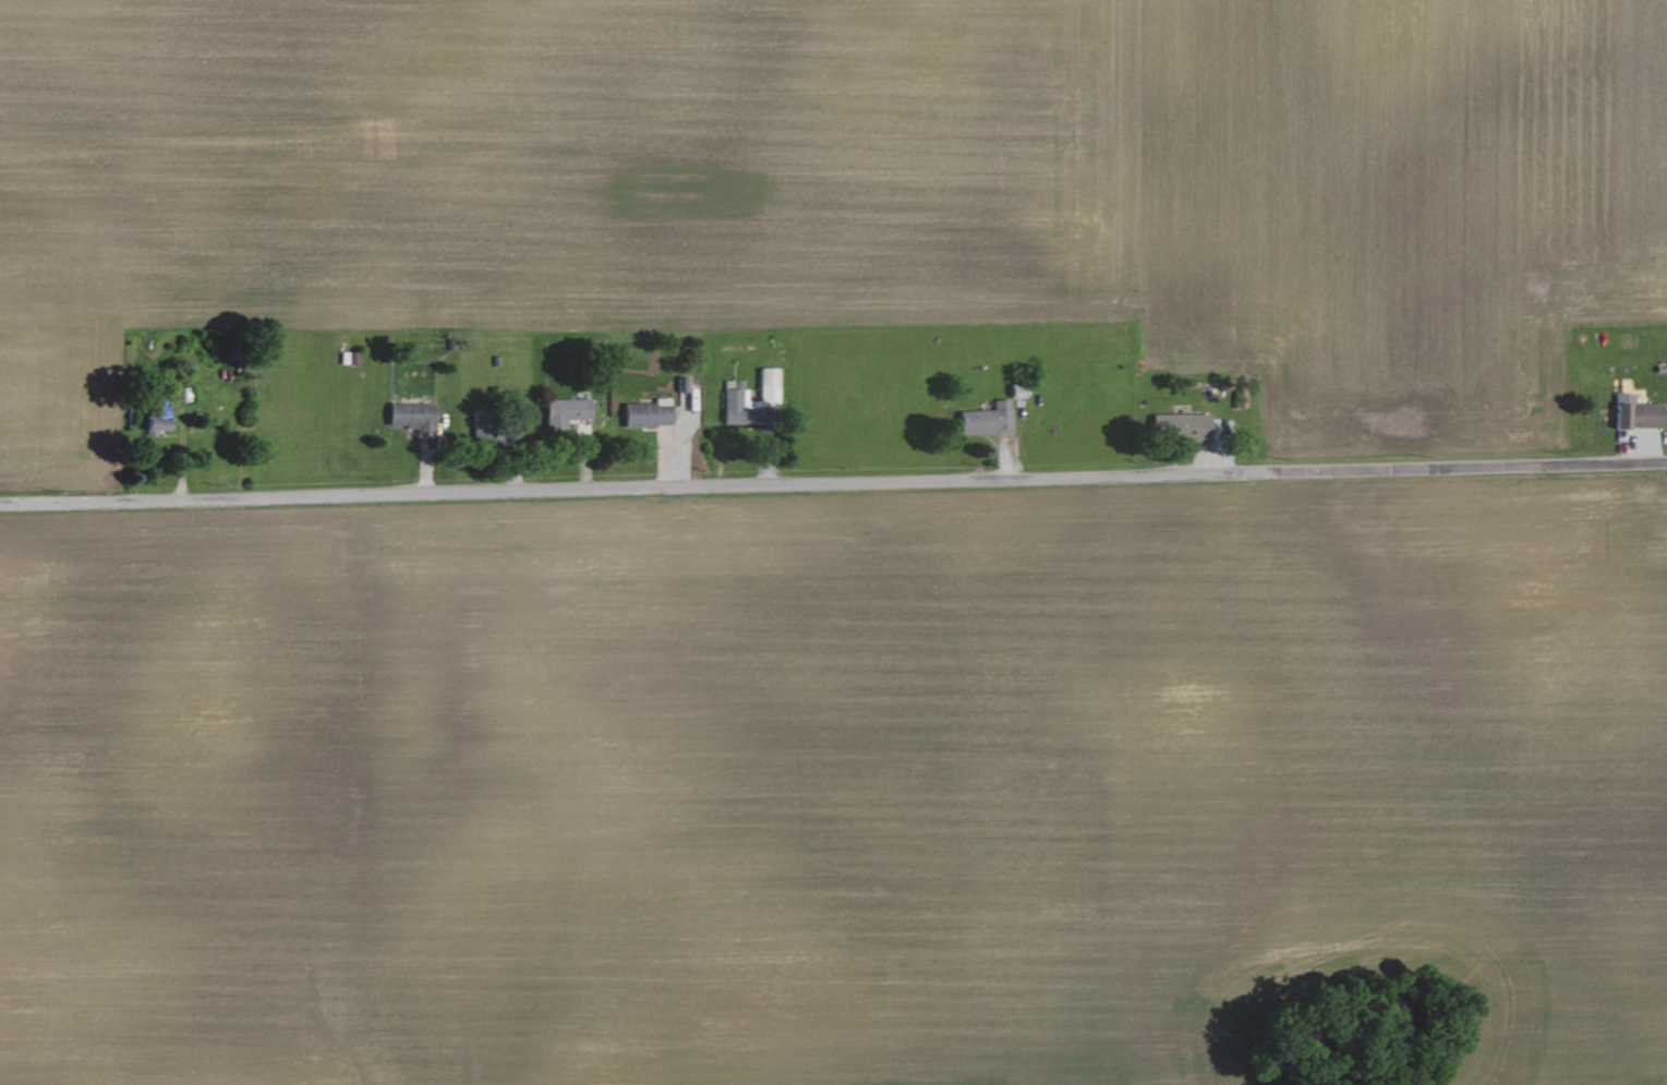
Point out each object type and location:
building: (770, 385)
building: (739, 405)
building: (567, 410)
building: (650, 412)
building: (1639, 412)
building: (412, 414)
building: (988, 418)
building: (157, 424)
building: (483, 425)
building: (1182, 425)
road: (833, 481)

